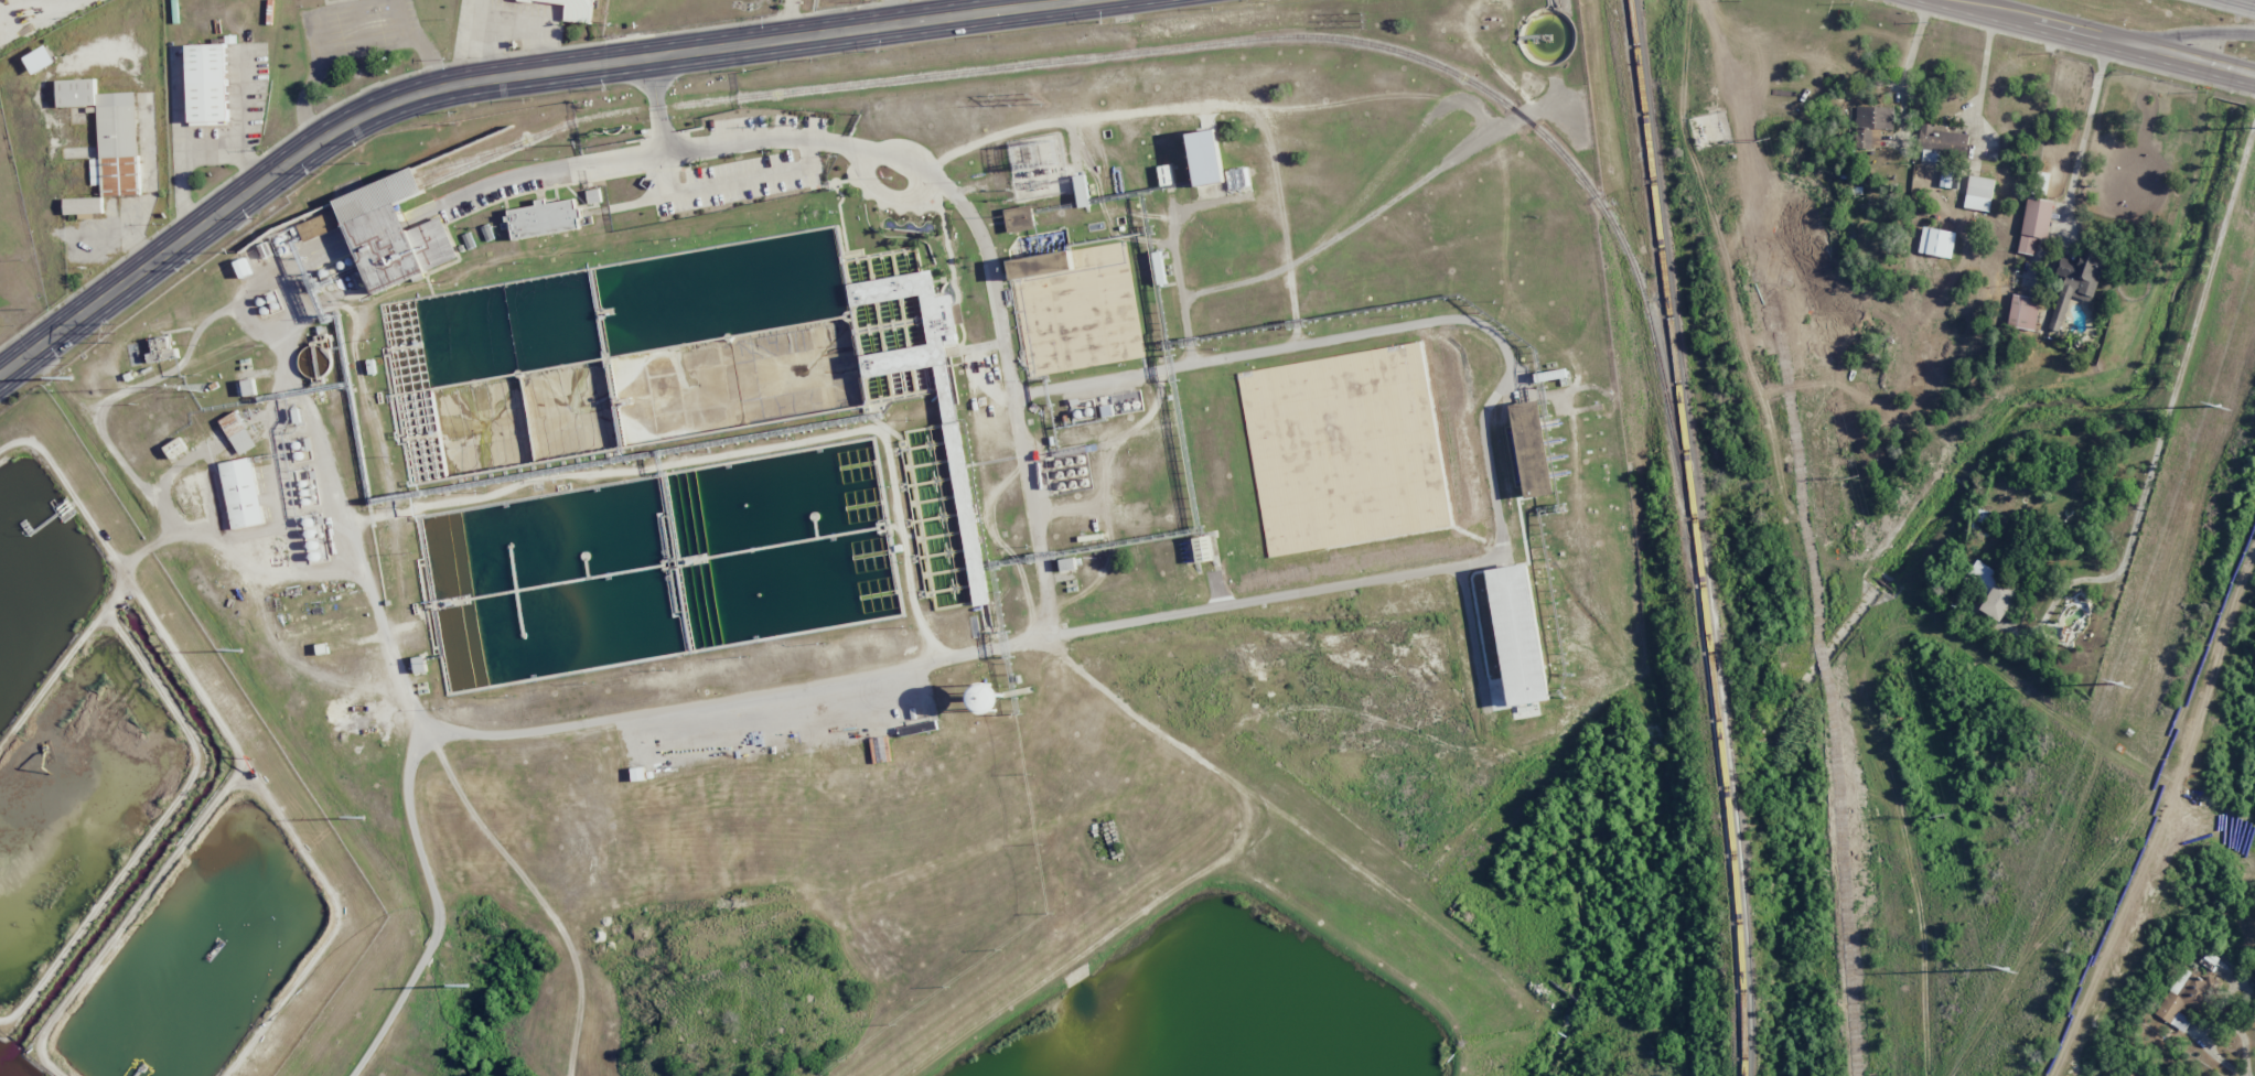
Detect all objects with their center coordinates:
road: (2242, 3)
building: (576, 9)
power tower: (1367, 19)
road: (530, 30)
road: (2184, 34)
road: (487, 39)
road: (2102, 39)
railway: (1202, 43)
building: (44, 62)
road: (1905, 69)
road: (509, 75)
building: (212, 85)
road: (1979, 90)
building: (79, 94)
power tower: (1041, 98)
power tower: (1018, 103)
building: (1873, 122)
power tower: (801, 123)
power tower: (1763, 139)
building: (1942, 139)
road: (2083, 142)
power tower: (586, 143)
building: (1931, 155)
railway: (463, 160)
power tower: (369, 161)
building: (1207, 164)
power substation: (1039, 165)
building: (1164, 173)
railway: (378, 191)
building: (1081, 191)
building: (1978, 193)
building: (379, 196)
building: (593, 196)
railway: (384, 202)
building: (83, 206)
building: (544, 218)
building: (1018, 219)
building: (2034, 223)
building: (487, 232)
building: (469, 240)
building: (398, 246)
power tower: (238, 250)
building: (1040, 265)
building: (2075, 284)
power tower: (20, 310)
building: (2022, 312)
power tower: (116, 333)
building: (162, 347)
building: (923, 356)
building: (253, 389)
building: (1124, 403)
power tower: (2216, 406)
building: (243, 435)
building: (1537, 450)
building: (180, 451)
power tower: (1851, 477)
building: (1363, 478)
building: (246, 496)
building: (968, 524)
railway: (1695, 537)
building: (1203, 548)
building: (1067, 564)
building: (1990, 590)
power tower: (255, 613)
building: (1518, 634)
building: (419, 664)
power tower: (2118, 685)
building: (986, 698)
water tower: (989, 700)
building: (935, 710)
building: (916, 729)
building: (879, 750)
power tower: (1942, 817)
power tower: (477, 903)
power tower: (2002, 968)
building: (2187, 1000)
building: (2135, 1073)

